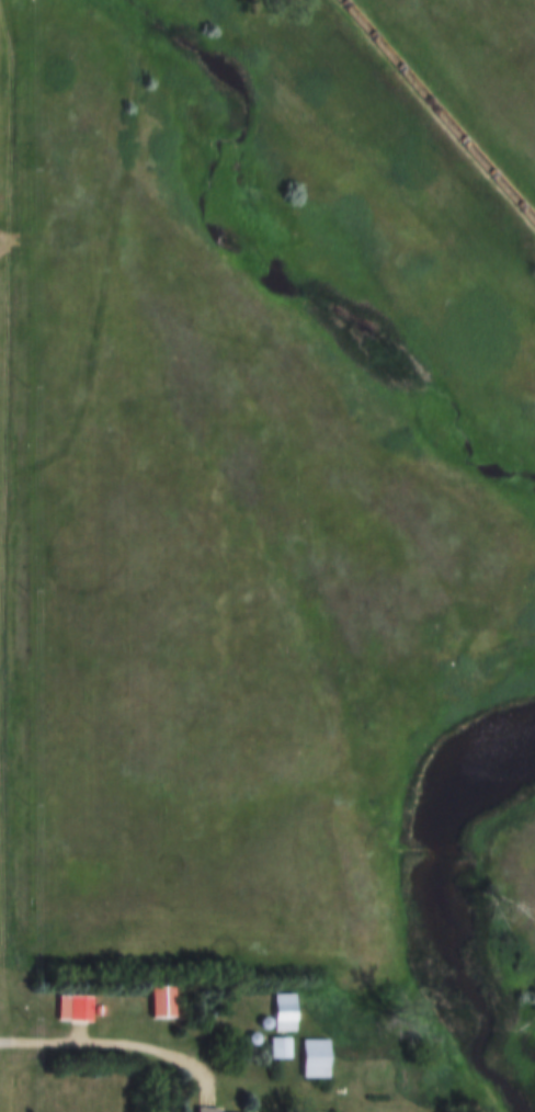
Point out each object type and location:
railway: (435, 114)
building: (166, 1003)
building: (77, 1009)
building: (289, 1014)
road: (126, 1040)
building: (285, 1051)
building: (320, 1060)
building: (385, 1071)
building: (212, 1111)

